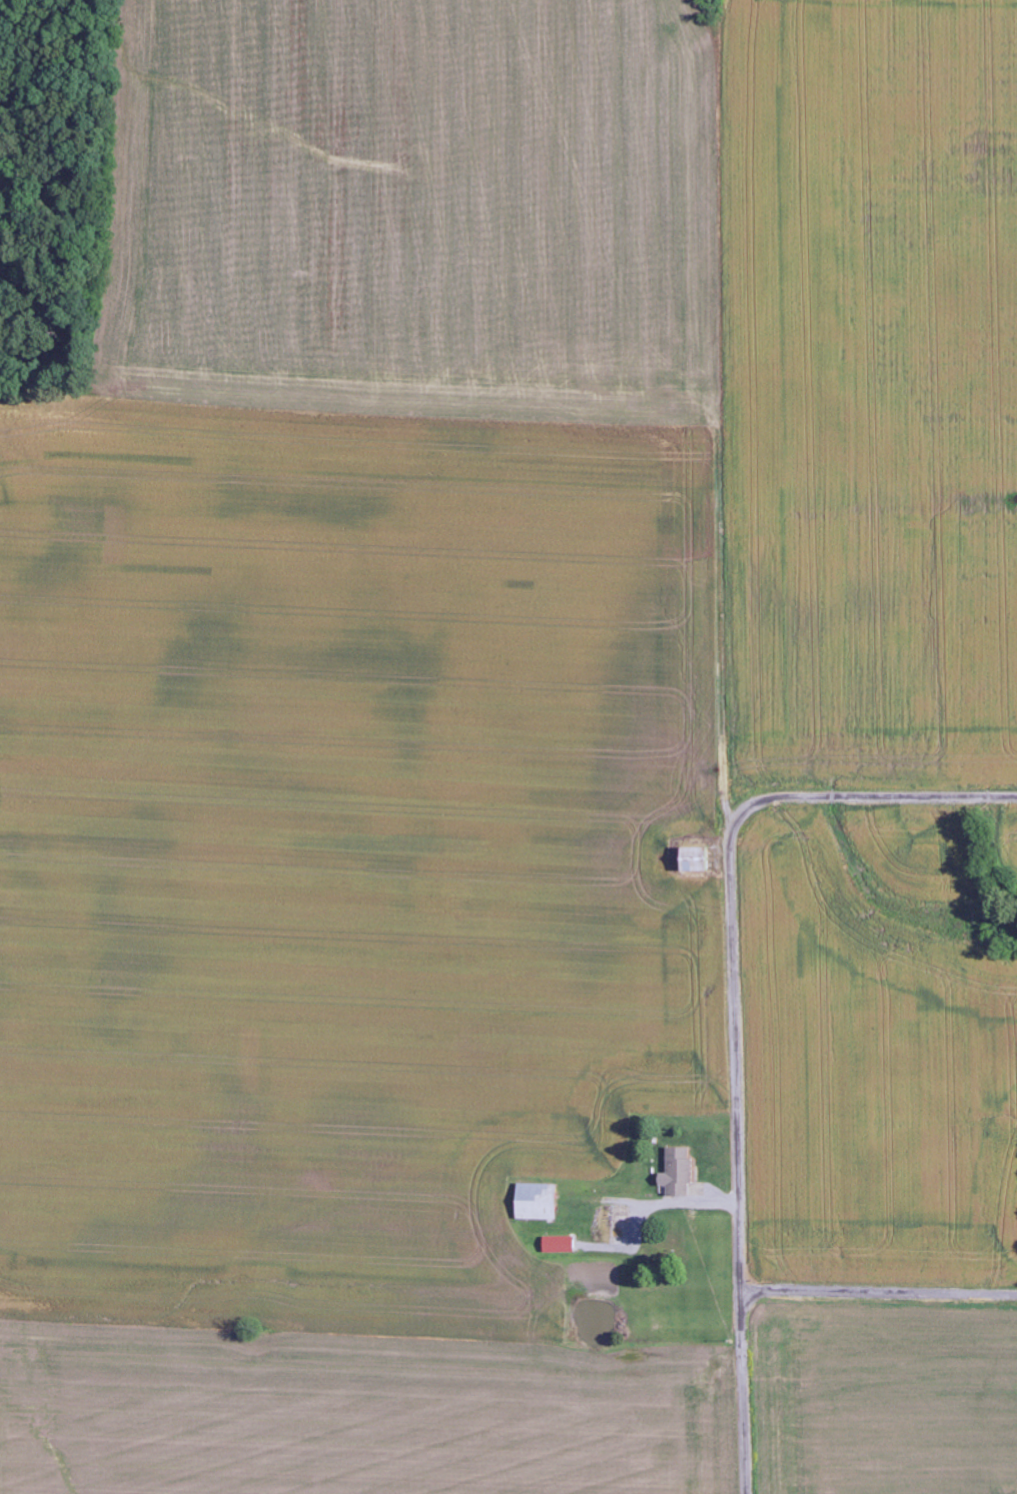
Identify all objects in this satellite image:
building: (695, 859)
road: (732, 1012)
building: (677, 1172)
building: (537, 1202)
building: (559, 1245)
road: (877, 1292)

